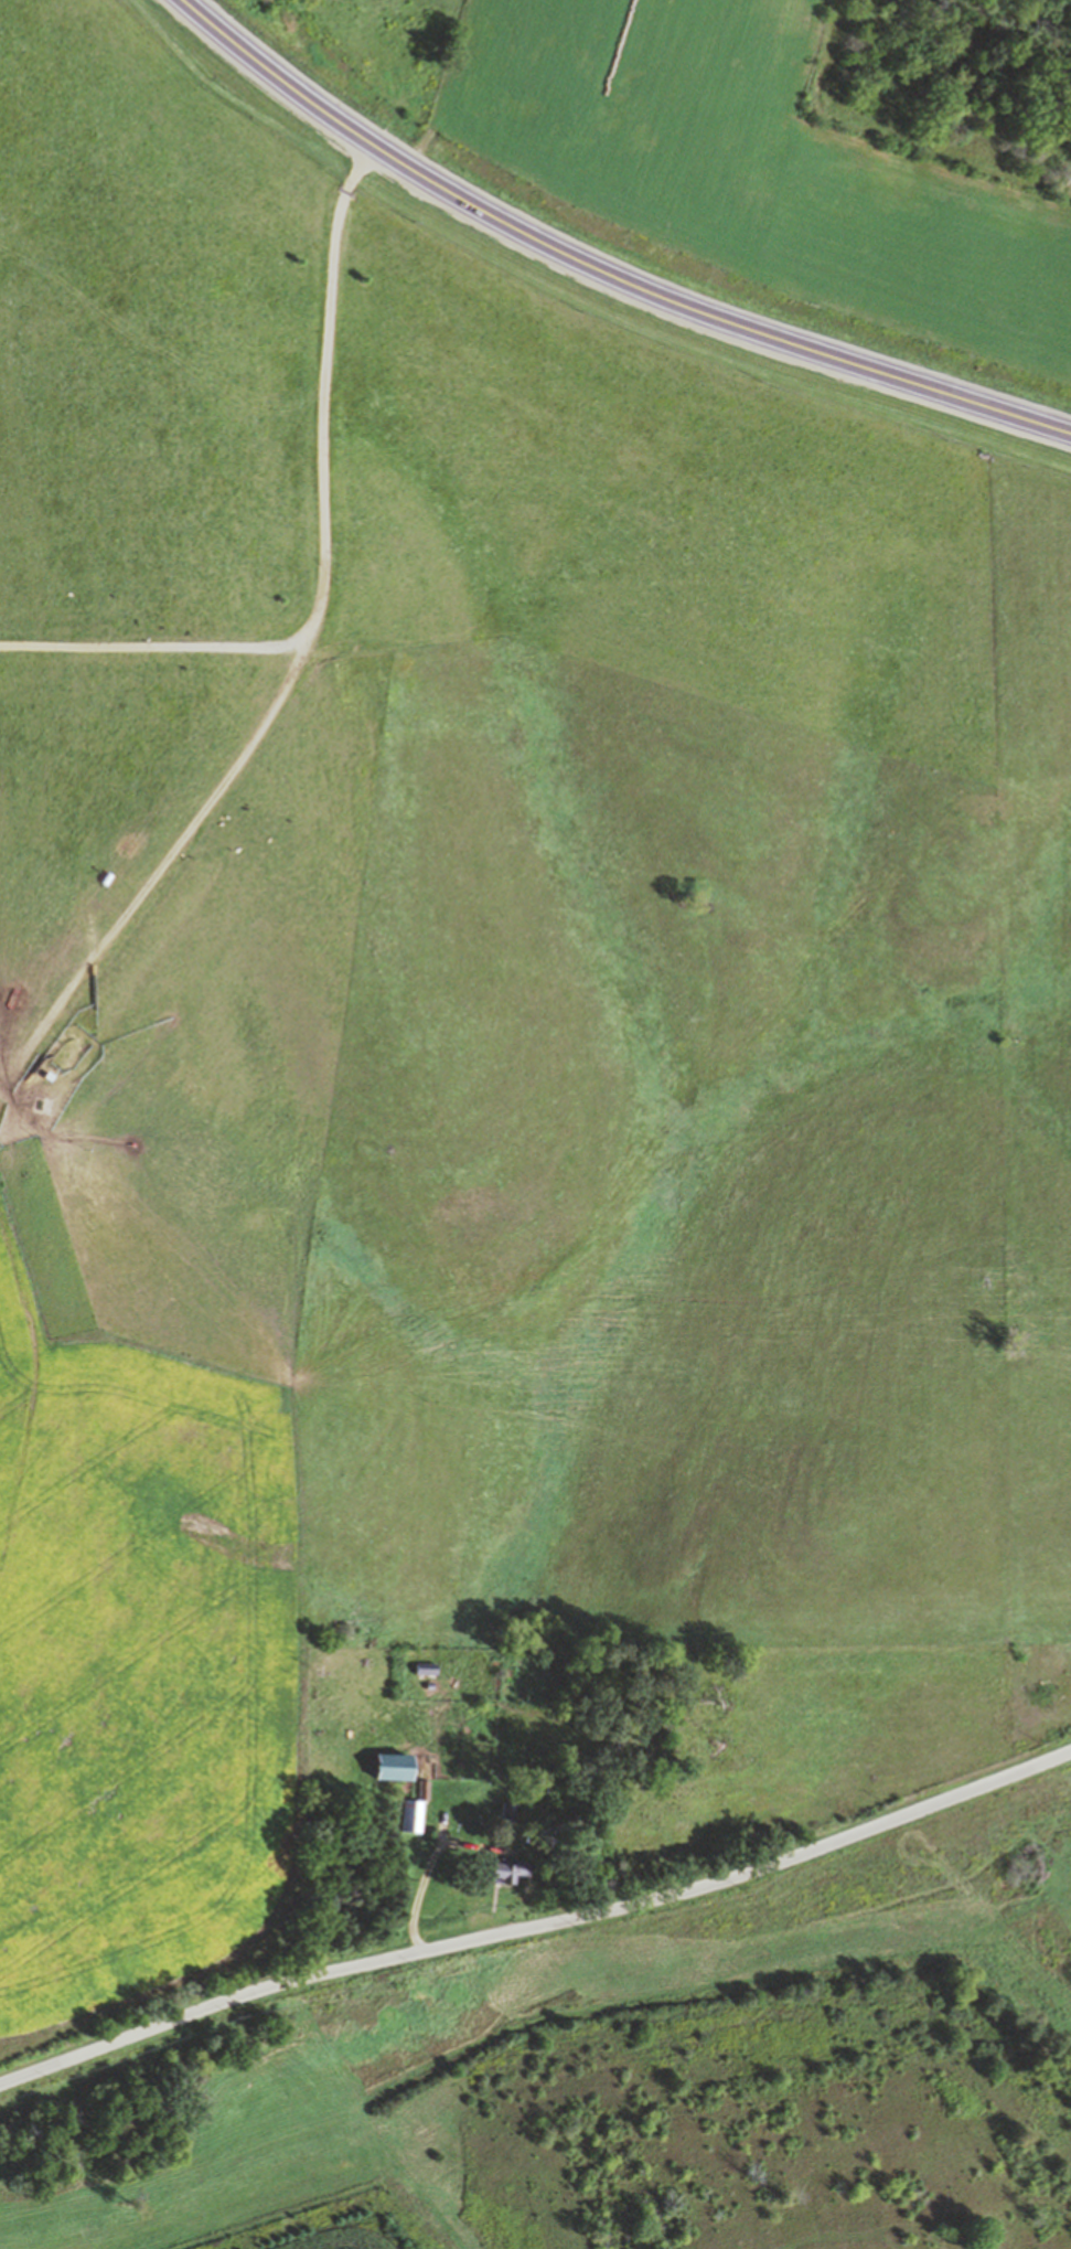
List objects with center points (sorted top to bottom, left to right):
road: (601, 266)
road: (323, 542)
road: (171, 850)
building: (424, 1666)
building: (392, 1765)
building: (544, 1780)
building: (414, 1808)
building: (511, 1811)
road: (428, 1863)
building: (505, 1869)
road: (537, 1923)

